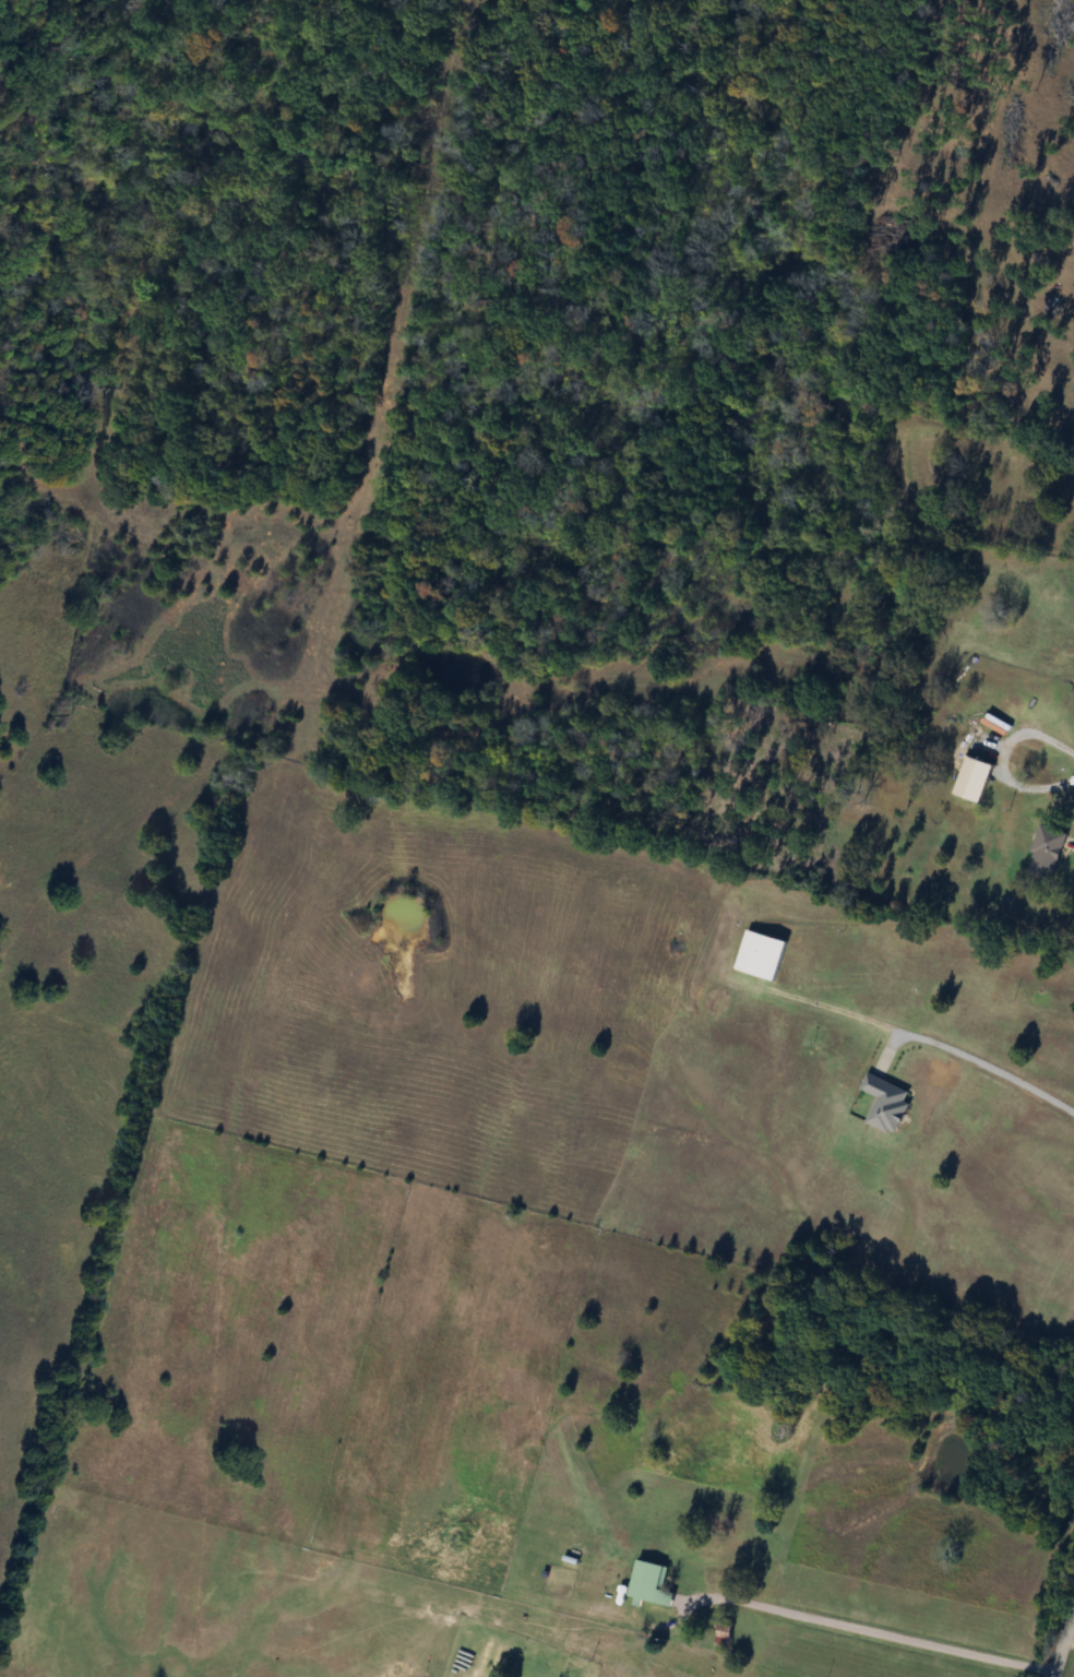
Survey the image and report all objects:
road: (1038, 786)
building: (1048, 853)
building: (762, 955)
road: (987, 1063)
building: (887, 1103)
building: (651, 1583)
road: (881, 1631)
road: (1062, 1638)

